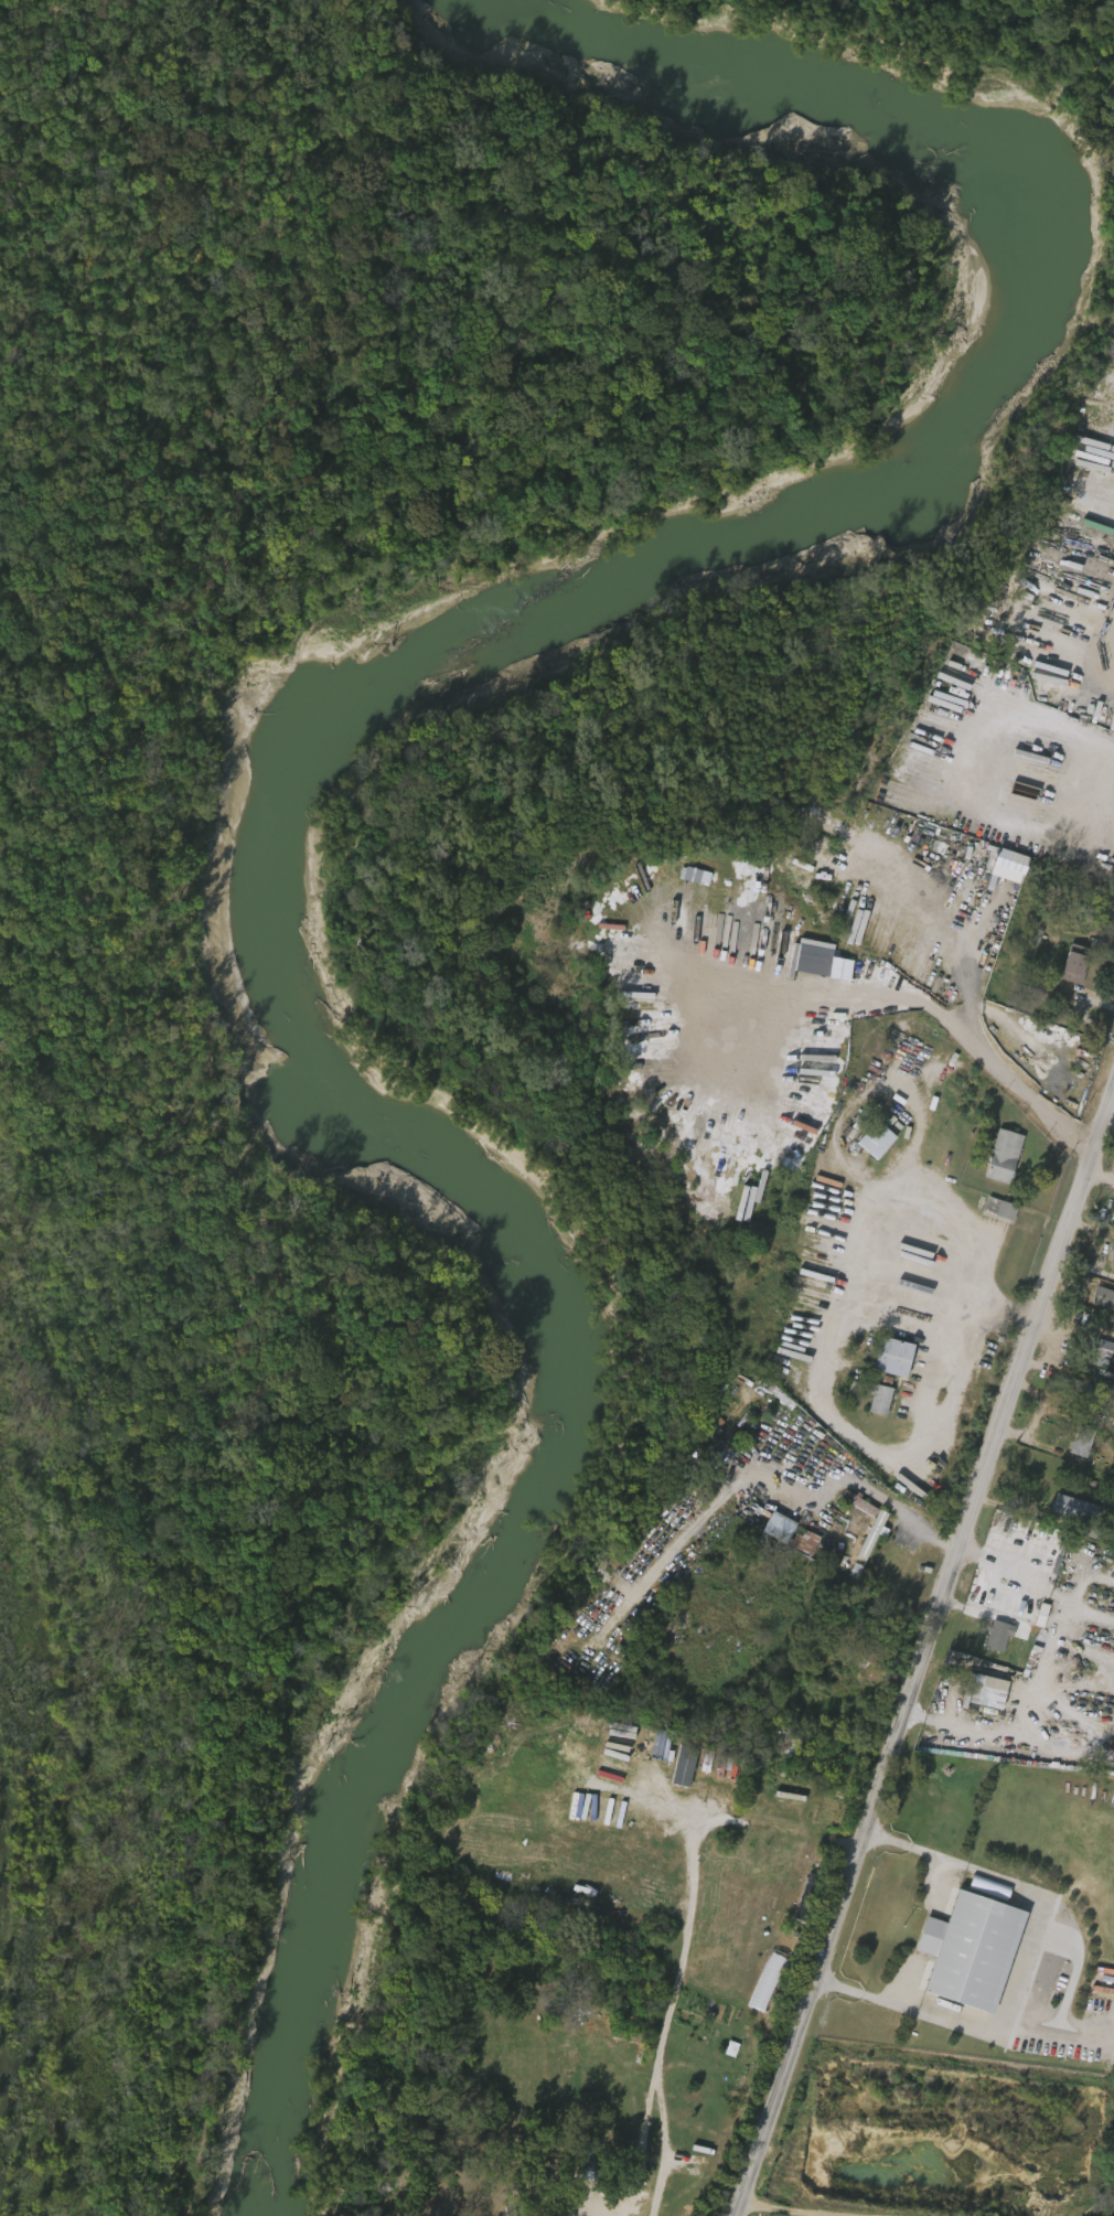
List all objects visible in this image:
road: (1097, 682)
road: (1085, 736)
river: (315, 804)
building: (688, 879)
road: (1099, 942)
building: (1078, 968)
building: (832, 972)
road: (947, 1019)
road: (1113, 1100)
building: (879, 1141)
building: (1006, 1157)
building: (992, 1212)
building: (1113, 1213)
building: (1111, 1252)
road: (973, 1254)
road: (1086, 1266)
building: (1110, 1303)
building: (1103, 1351)
building: (1091, 1356)
building: (898, 1358)
road: (949, 1381)
building: (883, 1401)
building: (871, 1402)
building: (1085, 1442)
building: (1073, 1444)
road: (887, 1457)
building: (1076, 1507)
building: (782, 1528)
building: (770, 1530)
building: (1094, 1531)
building: (875, 1535)
building: (807, 1542)
building: (795, 1545)
road: (1027, 1587)
road: (760, 1621)
building: (1001, 1637)
building: (989, 1638)
road: (926, 1658)
road: (898, 1684)
building: (676, 1767)
building: (982, 1890)
building: (810, 1898)
road: (684, 1941)
building: (973, 1951)
road: (1032, 1963)
building: (769, 1983)
road: (778, 2212)

